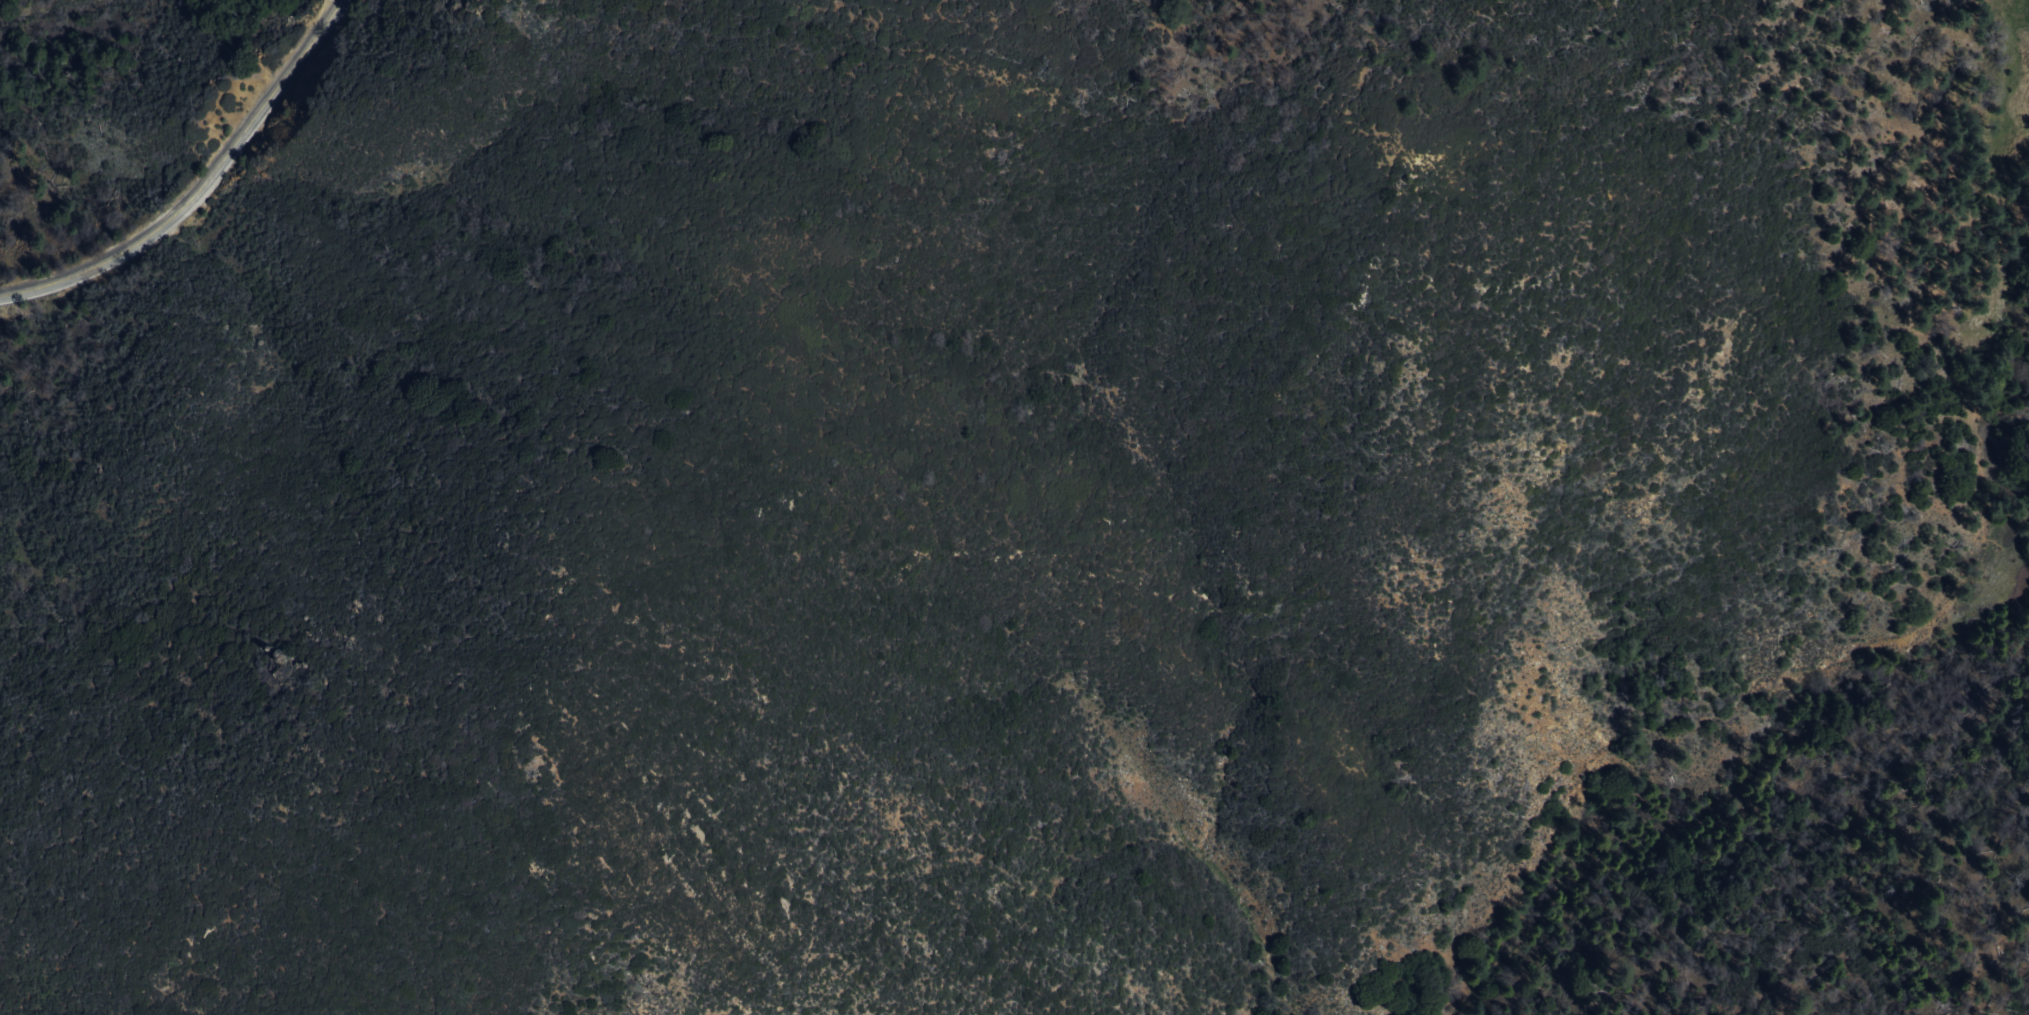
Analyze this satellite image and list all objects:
road: (203, 187)

